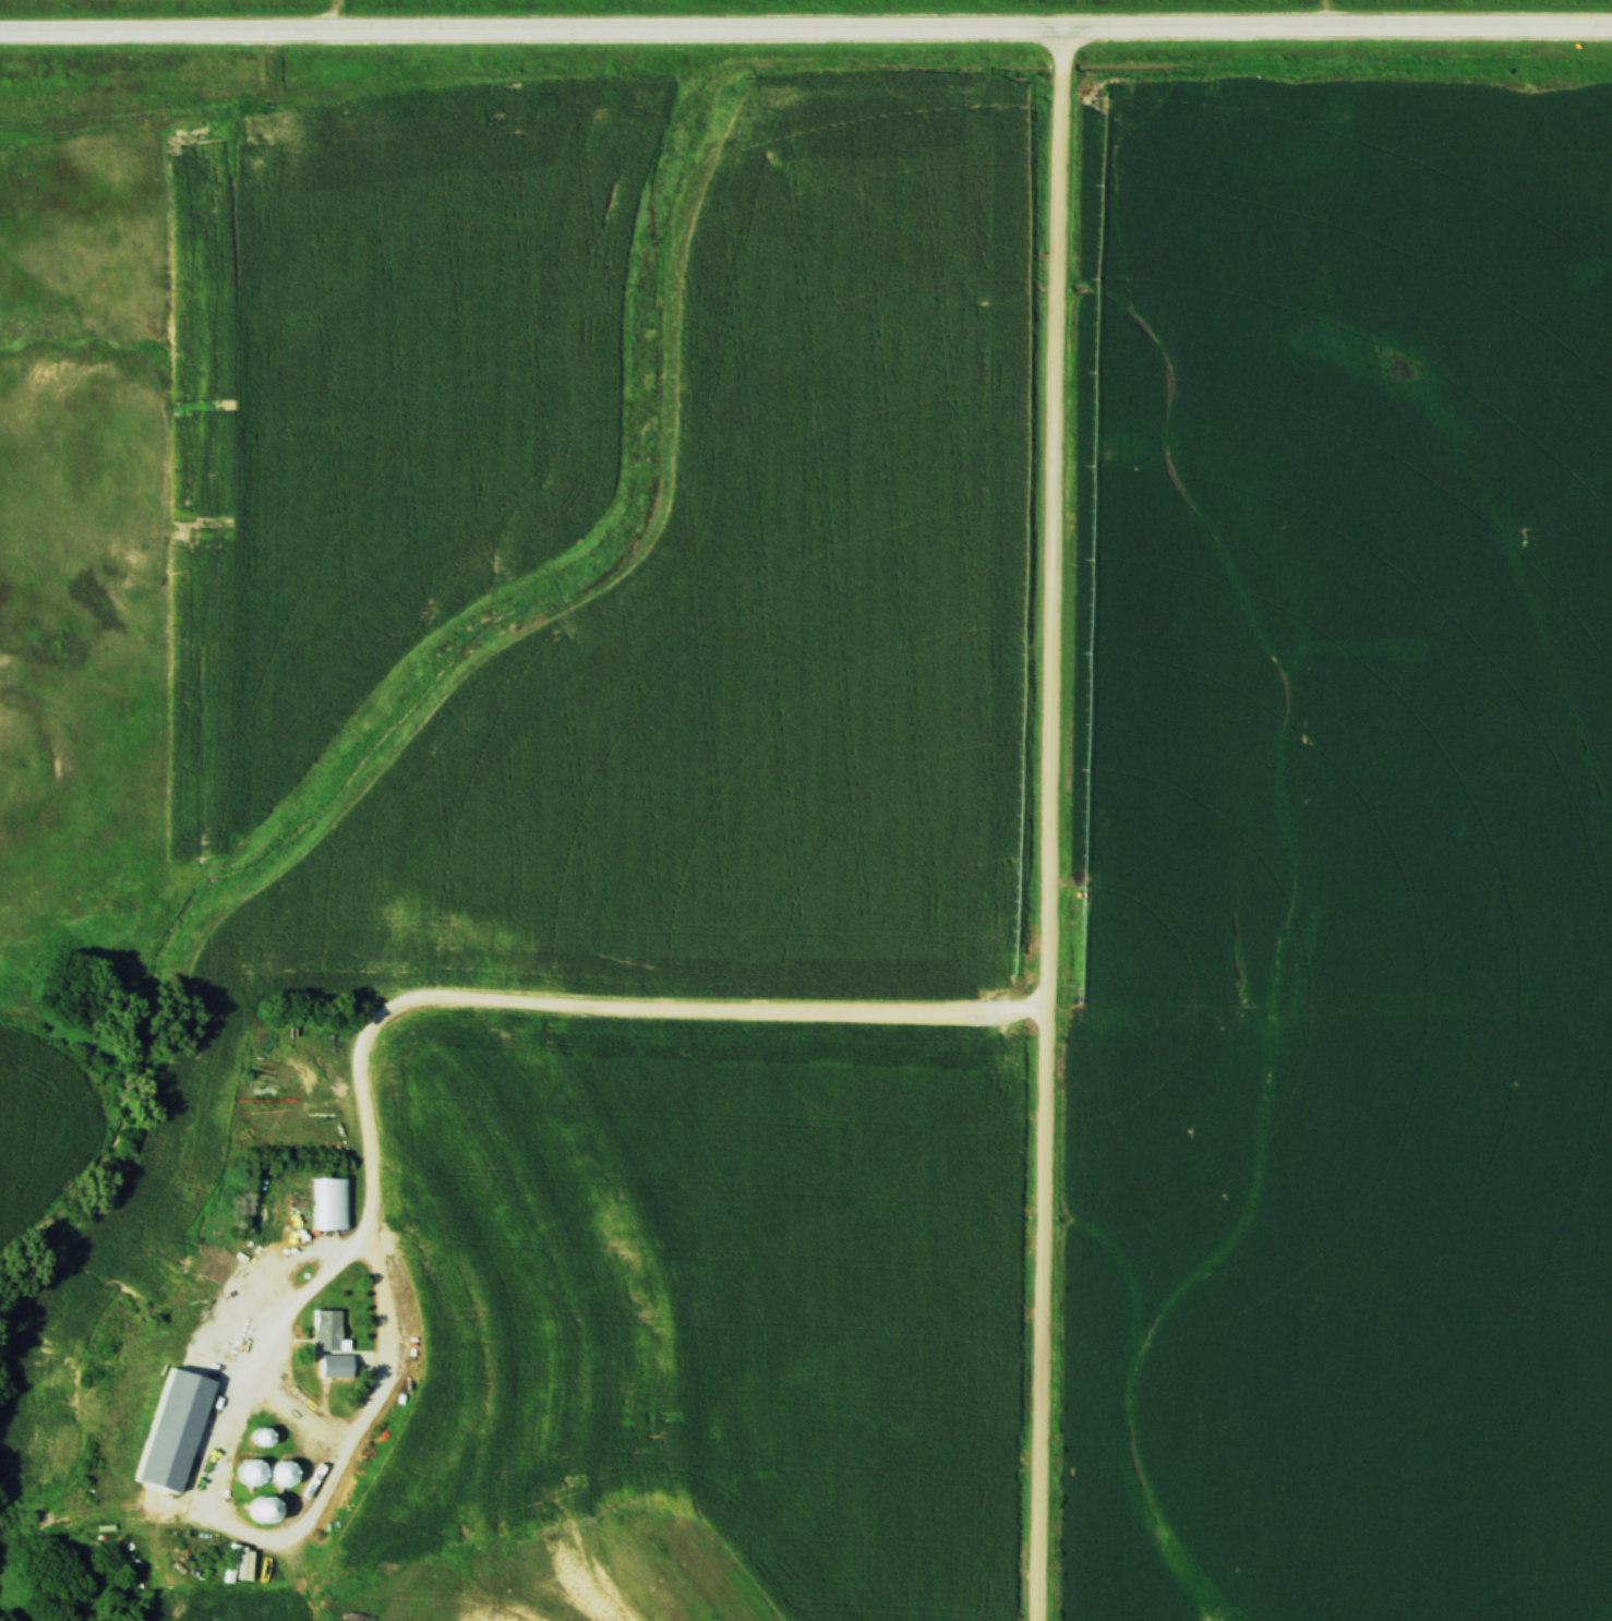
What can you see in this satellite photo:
road: (805, 26)
road: (1049, 821)
road: (500, 1007)
building: (330, 1203)
building: (323, 1330)
building: (220, 1334)
building: (244, 1405)
building: (184, 1421)
building: (256, 1436)
building: (245, 1473)
building: (277, 1473)
building: (257, 1509)

